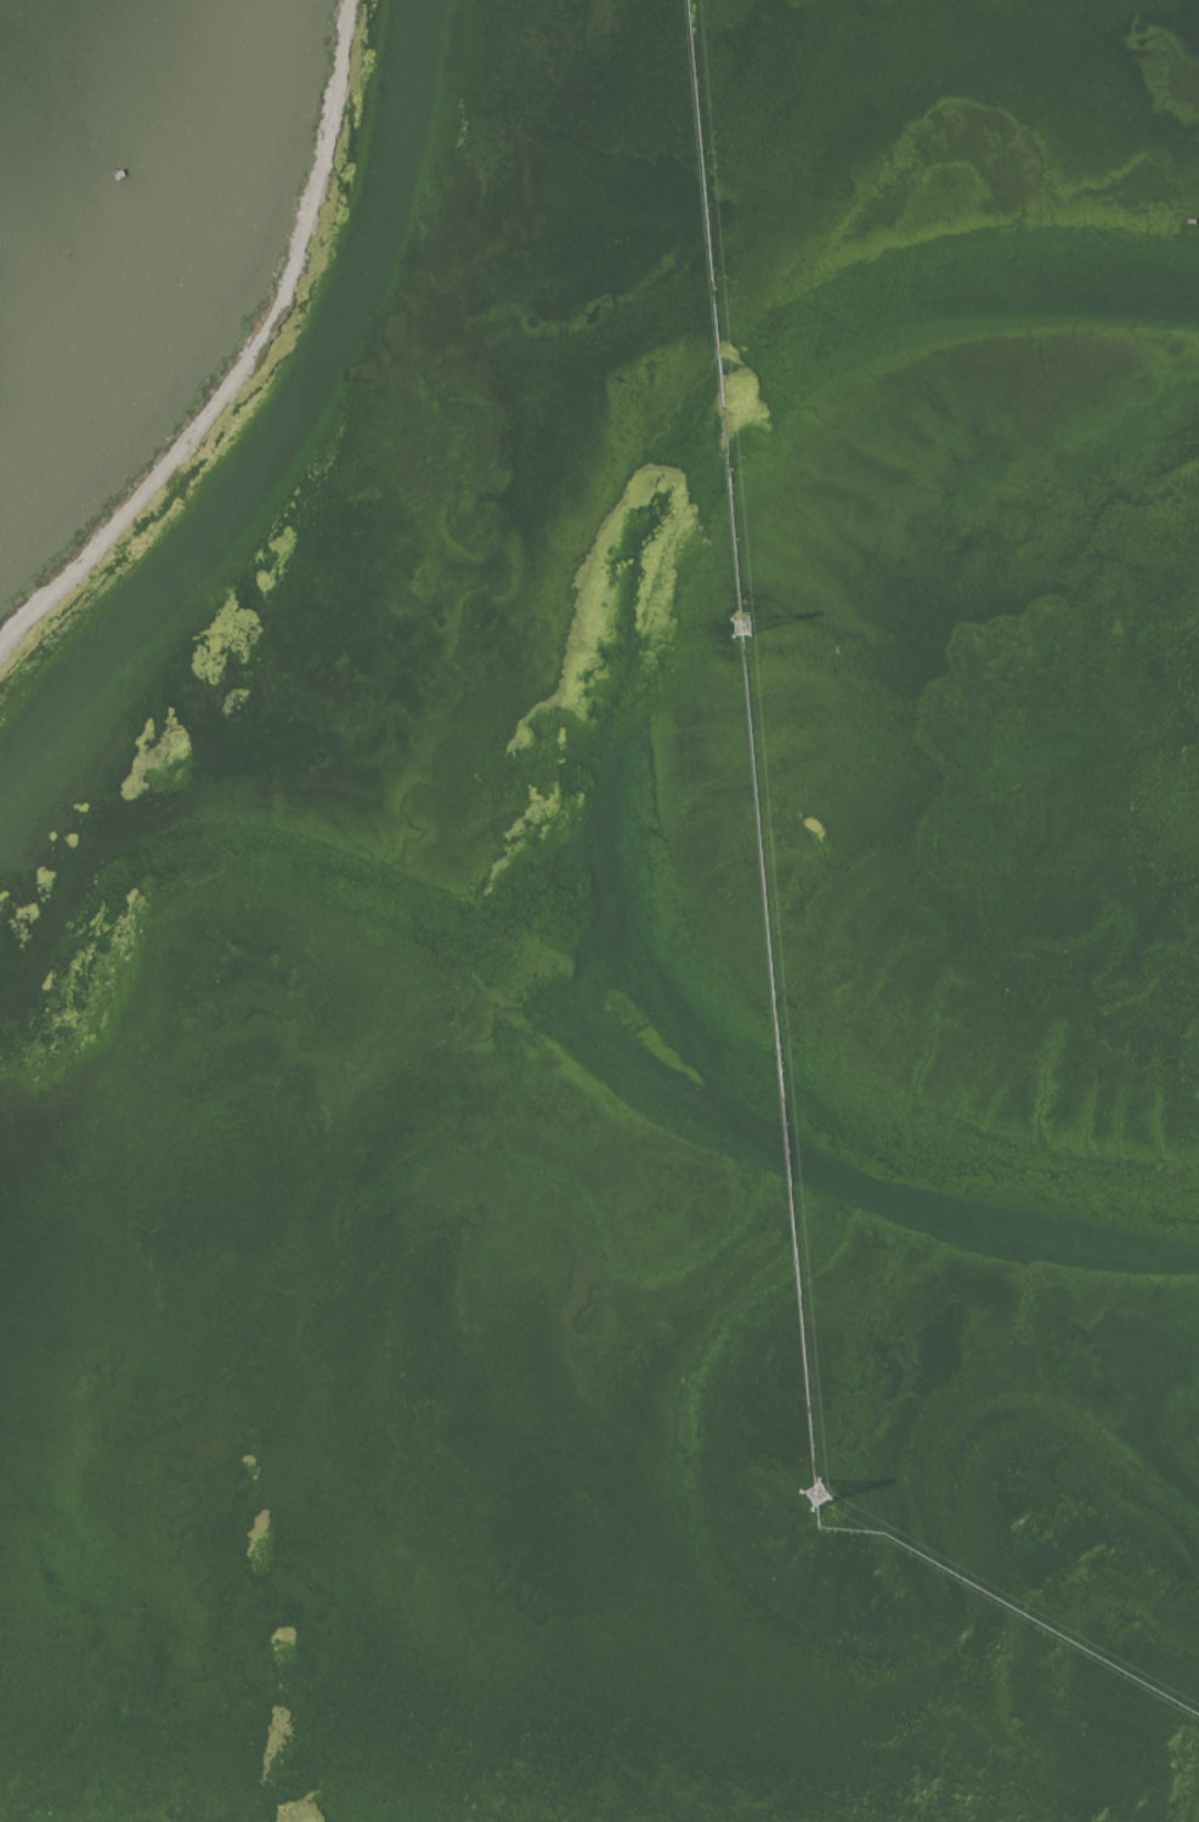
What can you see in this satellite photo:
power tower: (742, 632)
pier: (770, 977)
power tower: (813, 1499)

